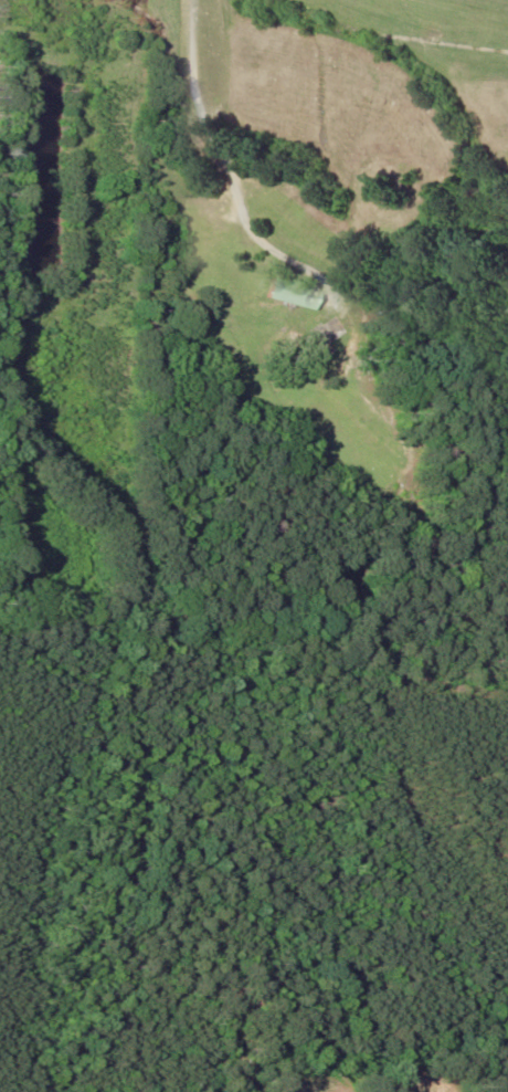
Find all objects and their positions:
road: (193, 105)
building: (284, 291)

